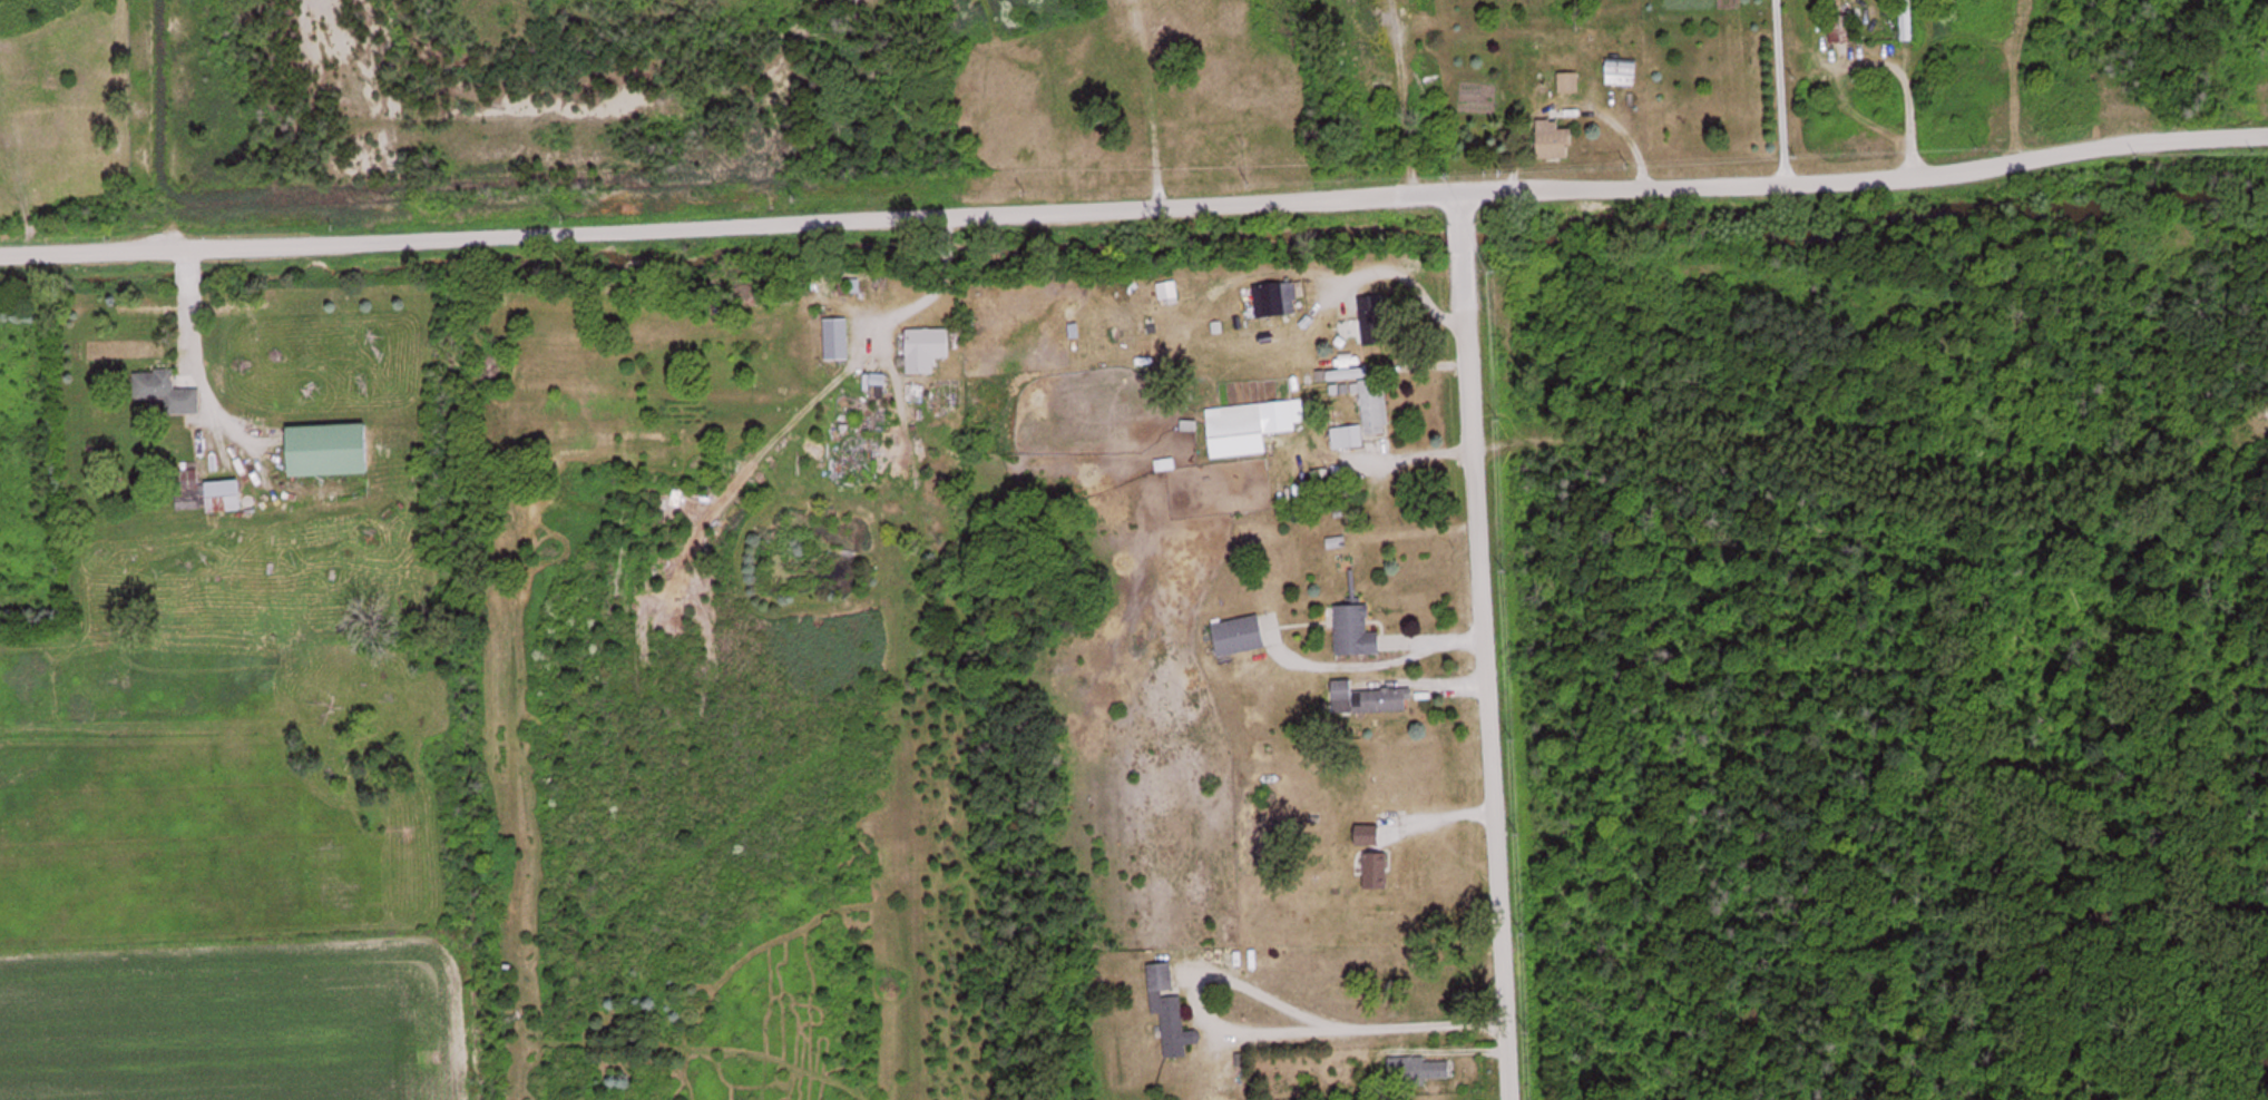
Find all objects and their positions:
road: (325, 26)
building: (1844, 30)
building: (1625, 75)
building: (1560, 141)
road: (1134, 204)
road: (1450, 245)
building: (1280, 302)
building: (1377, 323)
building: (827, 340)
building: (930, 351)
building: (170, 393)
building: (1367, 418)
building: (1250, 431)
building: (333, 452)
building: (222, 498)
building: (1347, 564)
building: (1359, 635)
building: (1242, 638)
road: (1479, 699)
building: (1385, 703)
building: (1379, 873)
building: (1170, 1011)
building: (1421, 1071)

